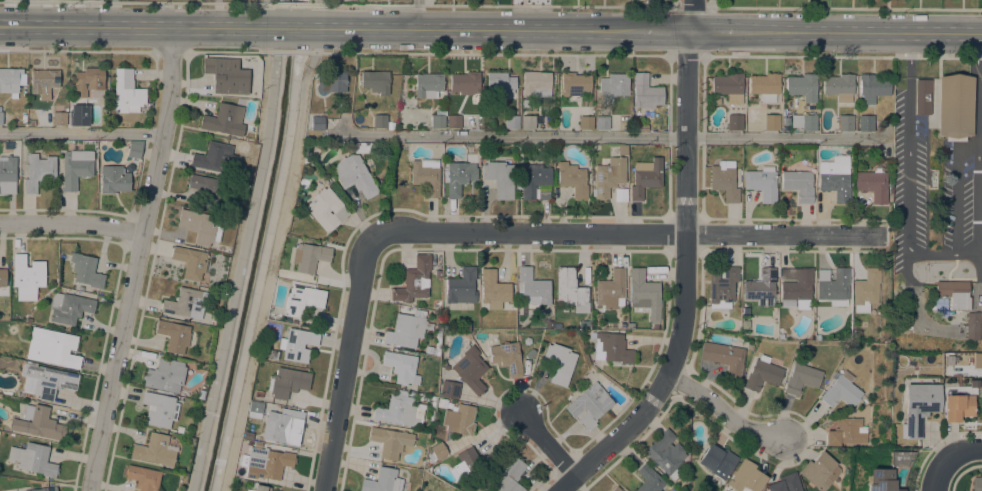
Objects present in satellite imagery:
road: (137, 2)
road: (692, 2)
road: (291, 3)
road: (489, 4)
road: (690, 6)
road: (846, 7)
road: (313, 13)
road: (417, 14)
road: (690, 18)
road: (136, 25)
road: (292, 27)
road: (477, 28)
road: (666, 30)
road: (712, 31)
road: (859, 31)
road: (312, 47)
road: (78, 50)
road: (173, 50)
road: (230, 50)
road: (287, 50)
road: (486, 53)
road: (685, 56)
road: (841, 57)
building: (226, 75)
building: (11, 81)
building: (88, 81)
building: (330, 81)
building: (375, 81)
building: (44, 82)
building: (465, 83)
building: (499, 83)
building: (536, 84)
building: (574, 84)
building: (428, 85)
building: (613, 86)
building: (765, 86)
building: (802, 86)
building: (839, 86)
building: (728, 87)
building: (873, 87)
building: (126, 92)
building: (646, 92)
building: (921, 97)
building: (953, 107)
building: (0, 117)
building: (59, 118)
building: (75, 118)
building: (438, 119)
building: (223, 120)
building: (786, 120)
building: (380, 121)
building: (454, 121)
building: (512, 121)
building: (804, 121)
building: (528, 122)
building: (586, 122)
building: (602, 122)
building: (734, 122)
building: (771, 122)
building: (846, 122)
building: (316, 123)
building: (866, 123)
building: (390, 125)
road: (81, 132)
road: (614, 137)
building: (8, 145)
building: (364, 147)
building: (134, 149)
building: (622, 149)
building: (213, 157)
building: (76, 167)
building: (39, 171)
building: (401, 174)
building: (7, 175)
building: (354, 175)
building: (426, 175)
building: (459, 176)
building: (608, 176)
building: (835, 177)
building: (500, 178)
building: (572, 178)
building: (646, 178)
building: (114, 179)
building: (724, 180)
building: (535, 181)
building: (762, 183)
building: (798, 184)
building: (873, 184)
building: (207, 189)
building: (325, 209)
road: (71, 222)
building: (200, 226)
road: (528, 231)
road: (784, 233)
road: (943, 252)
building: (309, 257)
road: (136, 259)
building: (190, 262)
building: (86, 271)
building: (438, 274)
building: (27, 275)
building: (3, 277)
road: (268, 278)
building: (414, 280)
road: (684, 283)
building: (461, 286)
building: (834, 286)
building: (761, 287)
building: (796, 287)
building: (493, 288)
building: (532, 288)
building: (723, 288)
building: (867, 289)
building: (570, 290)
building: (610, 290)
building: (644, 293)
building: (954, 293)
building: (302, 299)
building: (187, 303)
building: (69, 307)
building: (583, 324)
building: (555, 325)
building: (630, 325)
building: (972, 325)
building: (406, 330)
building: (174, 335)
building: (780, 335)
building: (817, 337)
building: (437, 341)
building: (296, 344)
building: (52, 347)
building: (612, 348)
building: (530, 353)
building: (272, 354)
building: (507, 357)
building: (725, 357)
building: (559, 363)
road: (344, 364)
building: (402, 367)
building: (470, 369)
building: (762, 373)
building: (165, 375)
building: (802, 378)
building: (49, 380)
building: (287, 382)
building: (449, 389)
building: (842, 390)
building: (401, 392)
building: (258, 393)
building: (419, 395)
building: (442, 402)
building: (589, 405)
building: (919, 406)
building: (957, 406)
building: (159, 409)
building: (254, 409)
road: (722, 410)
building: (399, 411)
building: (459, 419)
building: (40, 422)
building: (283, 427)
building: (846, 432)
building: (247, 435)
building: (390, 441)
road: (546, 443)
building: (257, 444)
building: (155, 450)
building: (437, 451)
building: (666, 453)
road: (965, 453)
building: (33, 458)
building: (717, 461)
building: (266, 463)
building: (471, 464)
building: (821, 471)
road: (941, 474)
building: (509, 475)
building: (143, 477)
building: (746, 477)
building: (649, 479)
building: (881, 480)
building: (382, 481)
building: (786, 483)
building: (976, 484)
building: (448, 487)
building: (259, 488)
building: (42, 489)
building: (616, 489)

